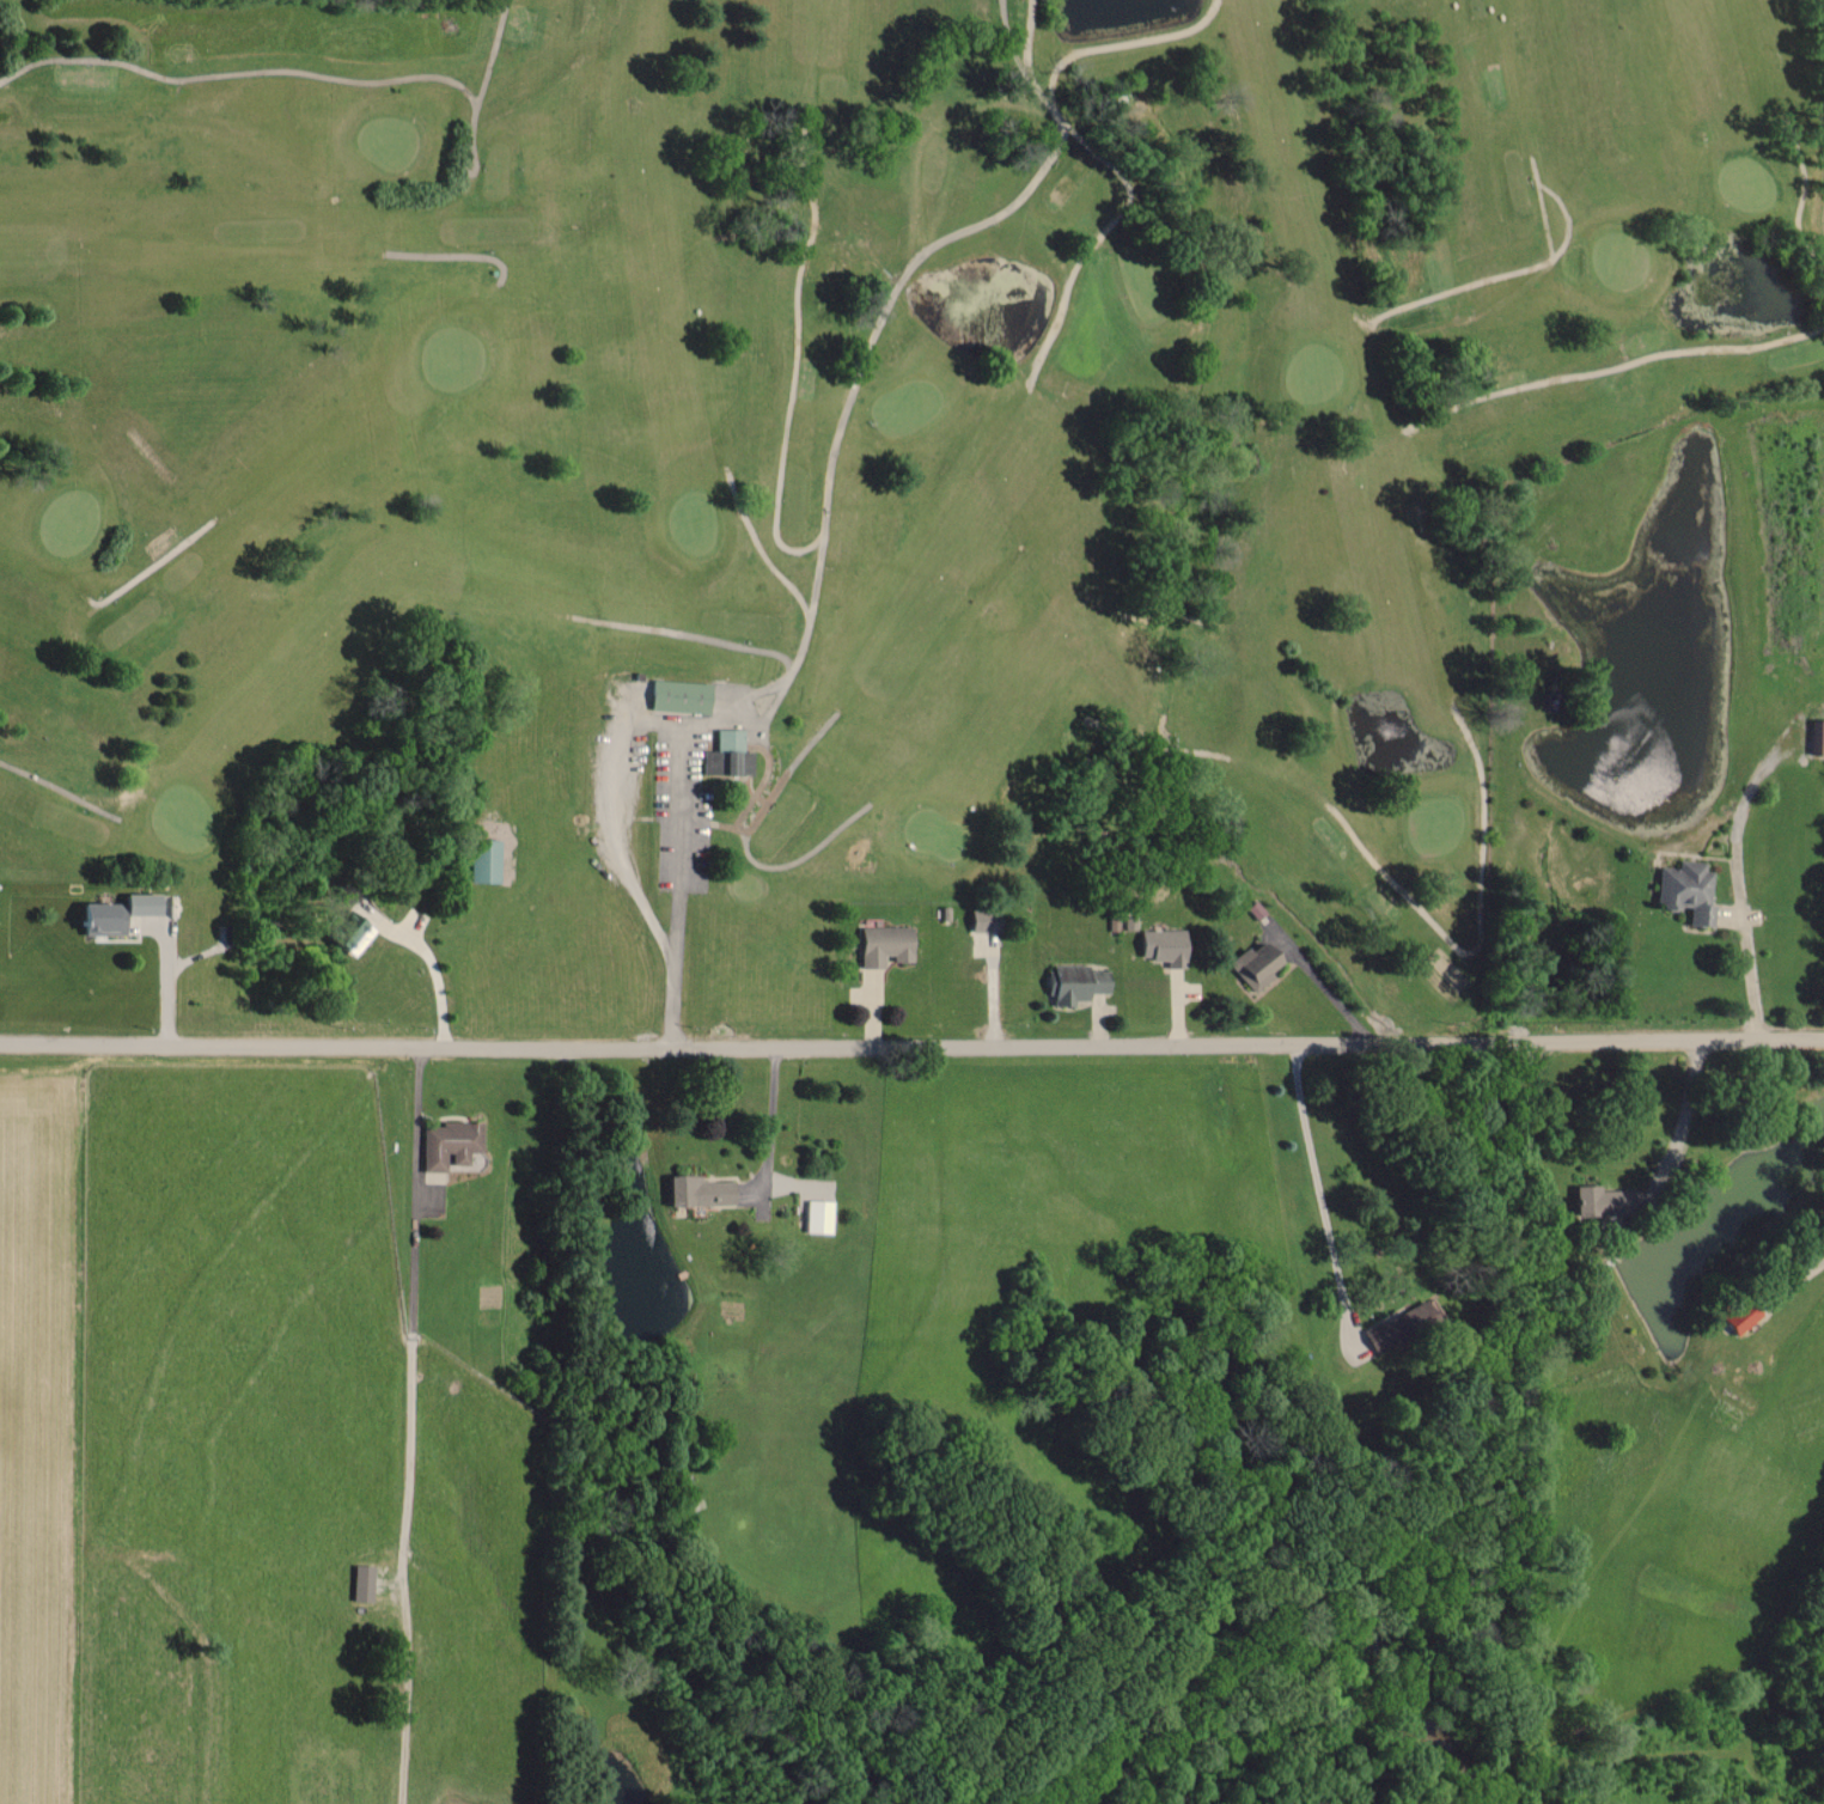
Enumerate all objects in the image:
park: (887, 463)
building: (676, 695)
building: (1816, 737)
building: (725, 754)
building: (482, 860)
road: (1738, 882)
building: (1683, 890)
building: (110, 912)
building: (980, 920)
building: (346, 933)
building: (880, 944)
building: (1159, 945)
building: (1251, 963)
building: (1072, 983)
road: (911, 1032)
road: (1686, 1108)
road: (769, 1113)
building: (446, 1141)
building: (696, 1189)
road: (1313, 1194)
building: (1593, 1200)
building: (815, 1214)
building: (1737, 1314)
building: (1399, 1323)
road: (417, 1419)
building: (359, 1581)

